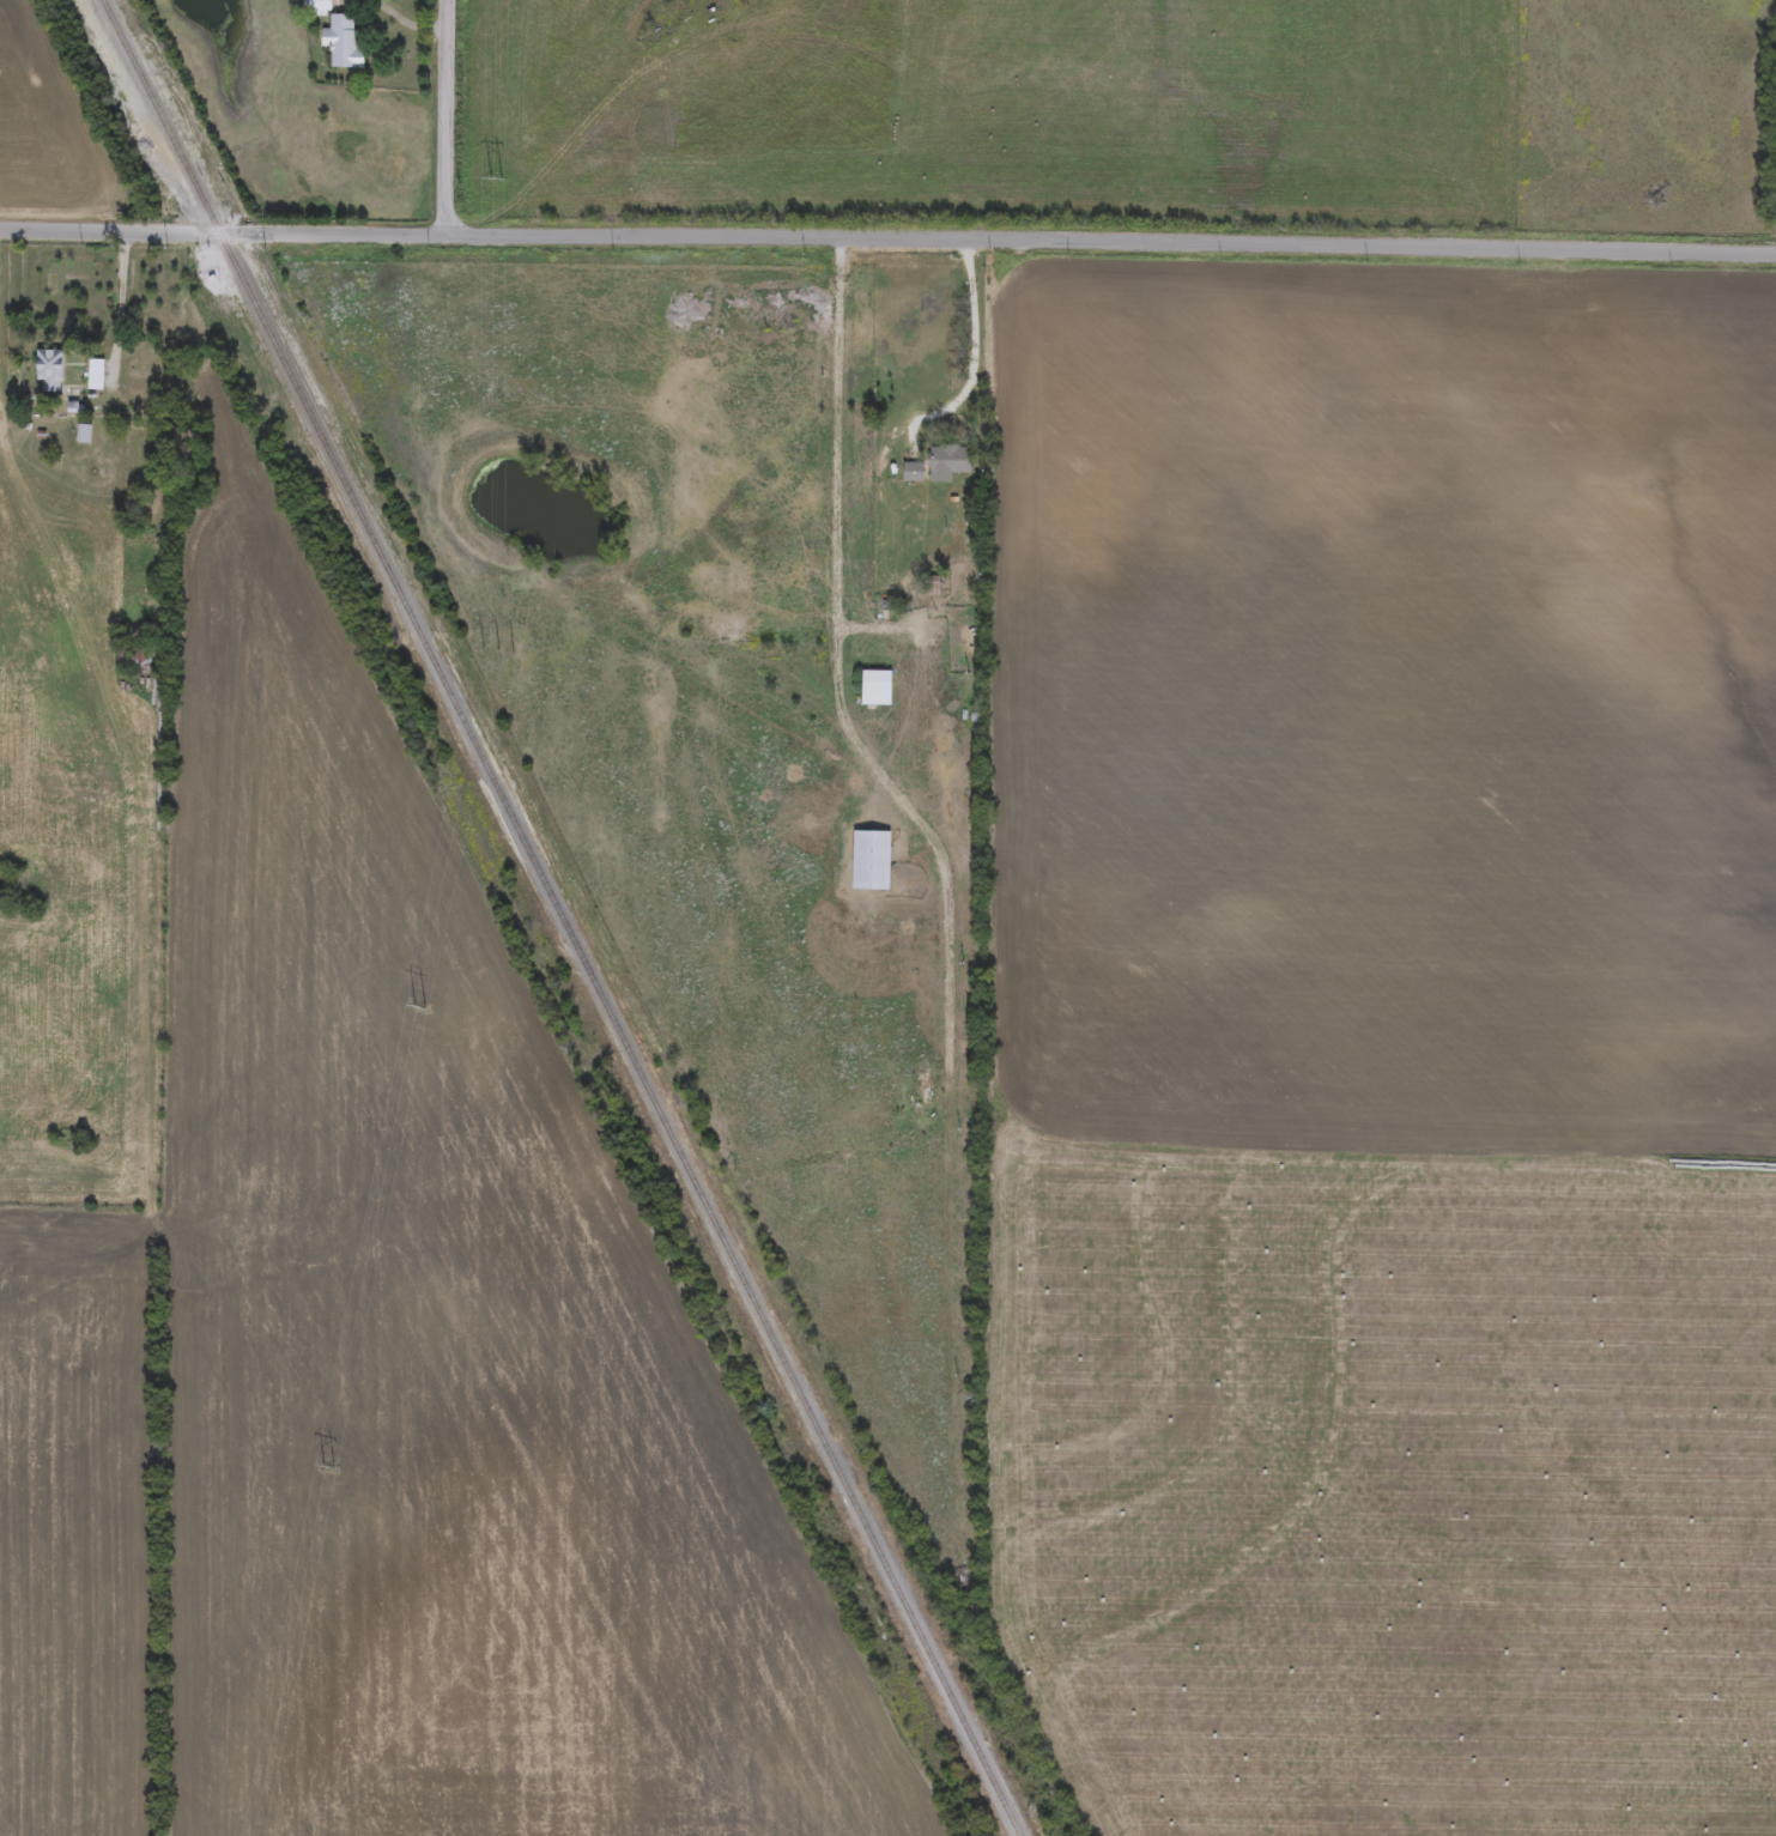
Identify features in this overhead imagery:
building: (317, 8)
road: (398, 24)
building: (341, 44)
road: (443, 121)
power tower: (504, 183)
road: (887, 246)
road: (119, 308)
road: (975, 351)
building: (49, 371)
building: (95, 380)
building: (947, 465)
building: (913, 475)
road: (835, 622)
road: (872, 630)
power tower: (498, 652)
building: (874, 690)
railway: (559, 917)
power tower: (423, 1008)
power tower: (334, 1467)

